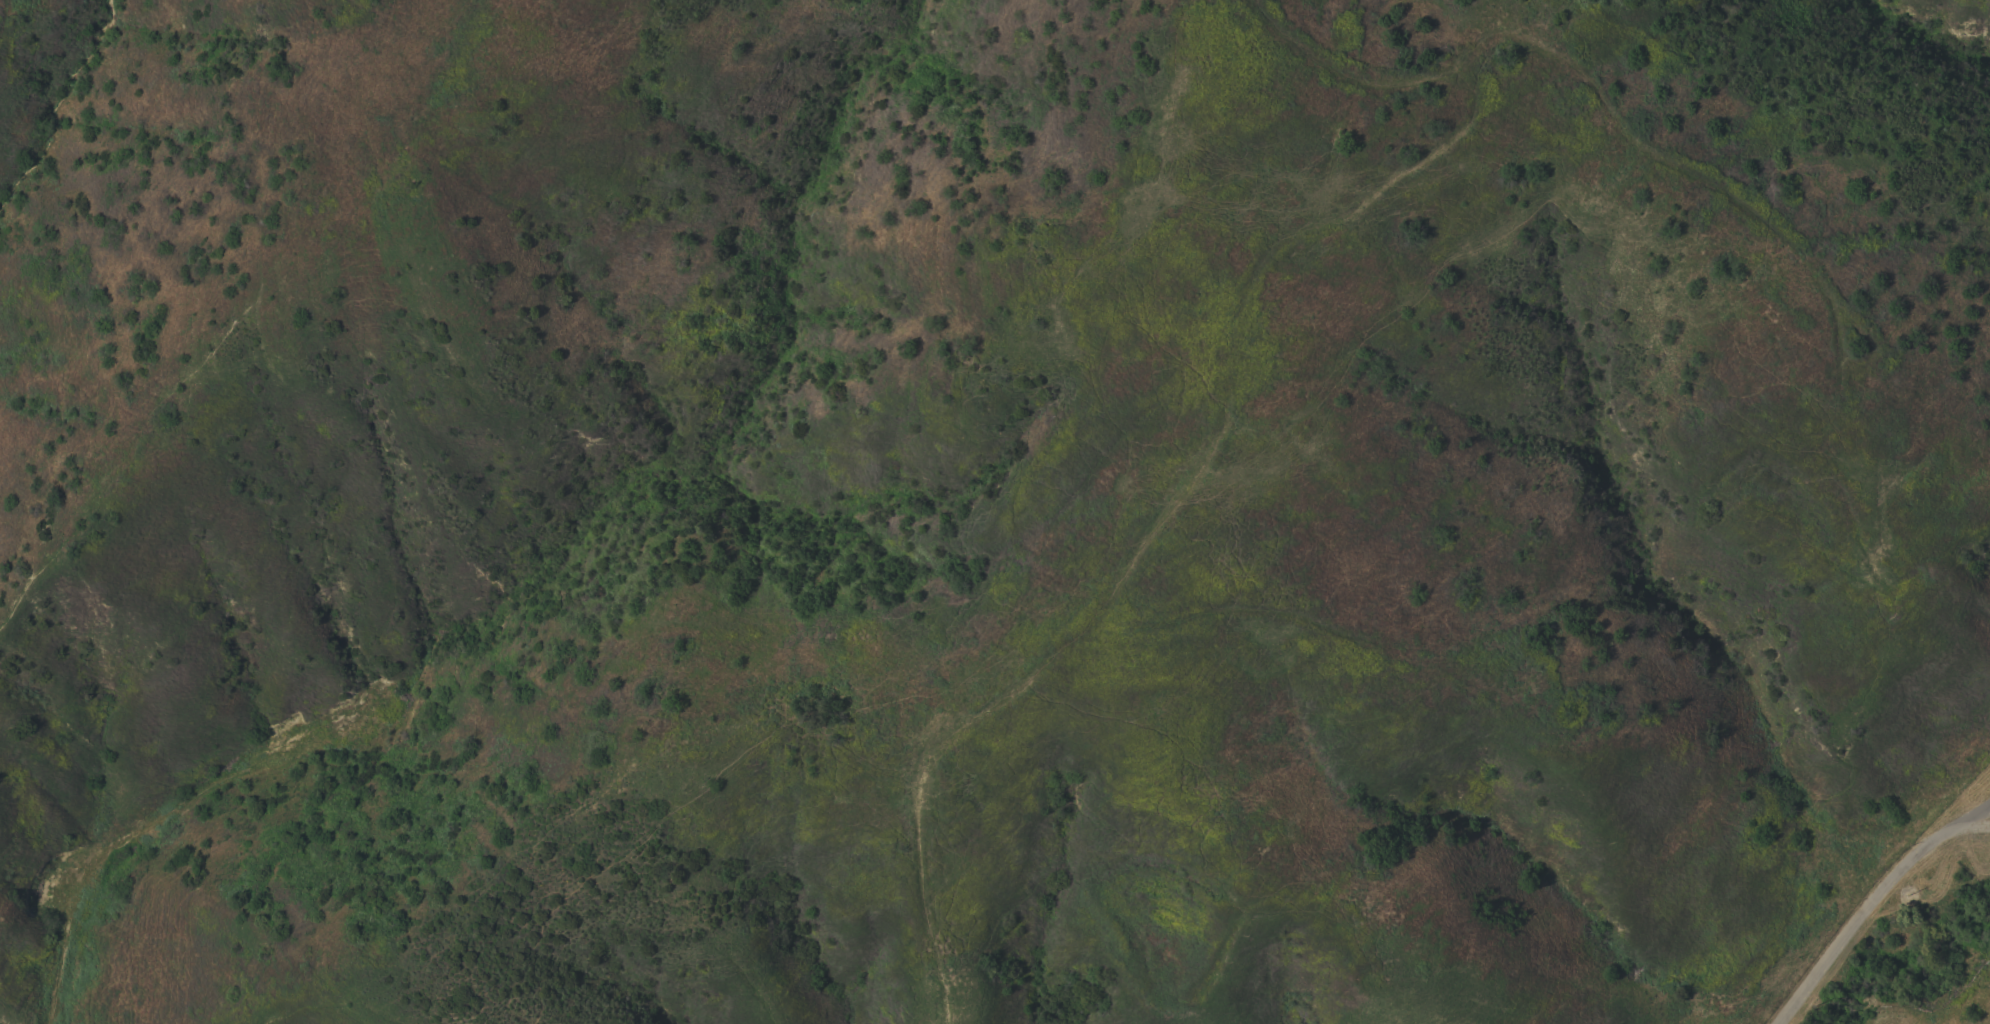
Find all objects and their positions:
road: (1221, 417)
road: (1968, 831)
road: (1874, 904)

